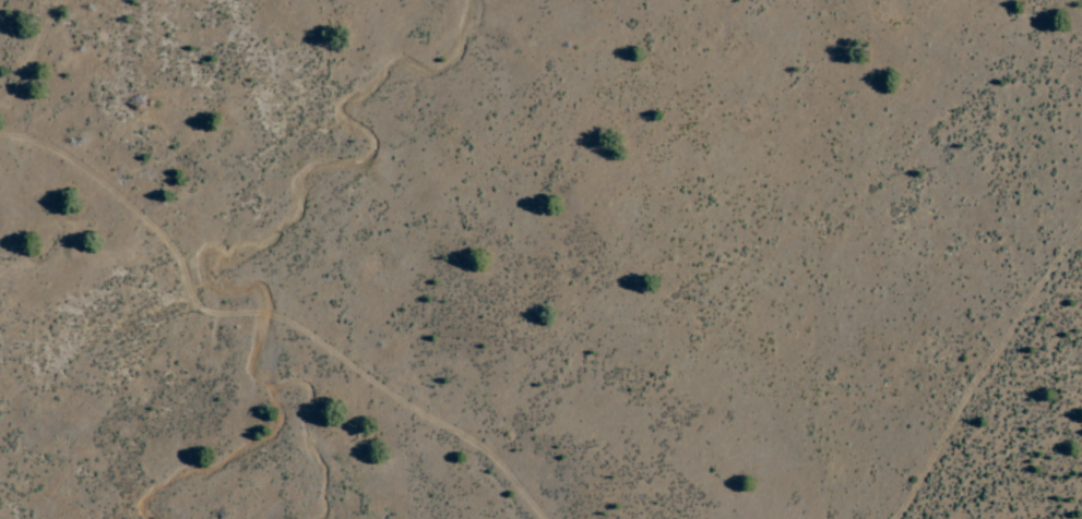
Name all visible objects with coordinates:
road: (267, 314)

